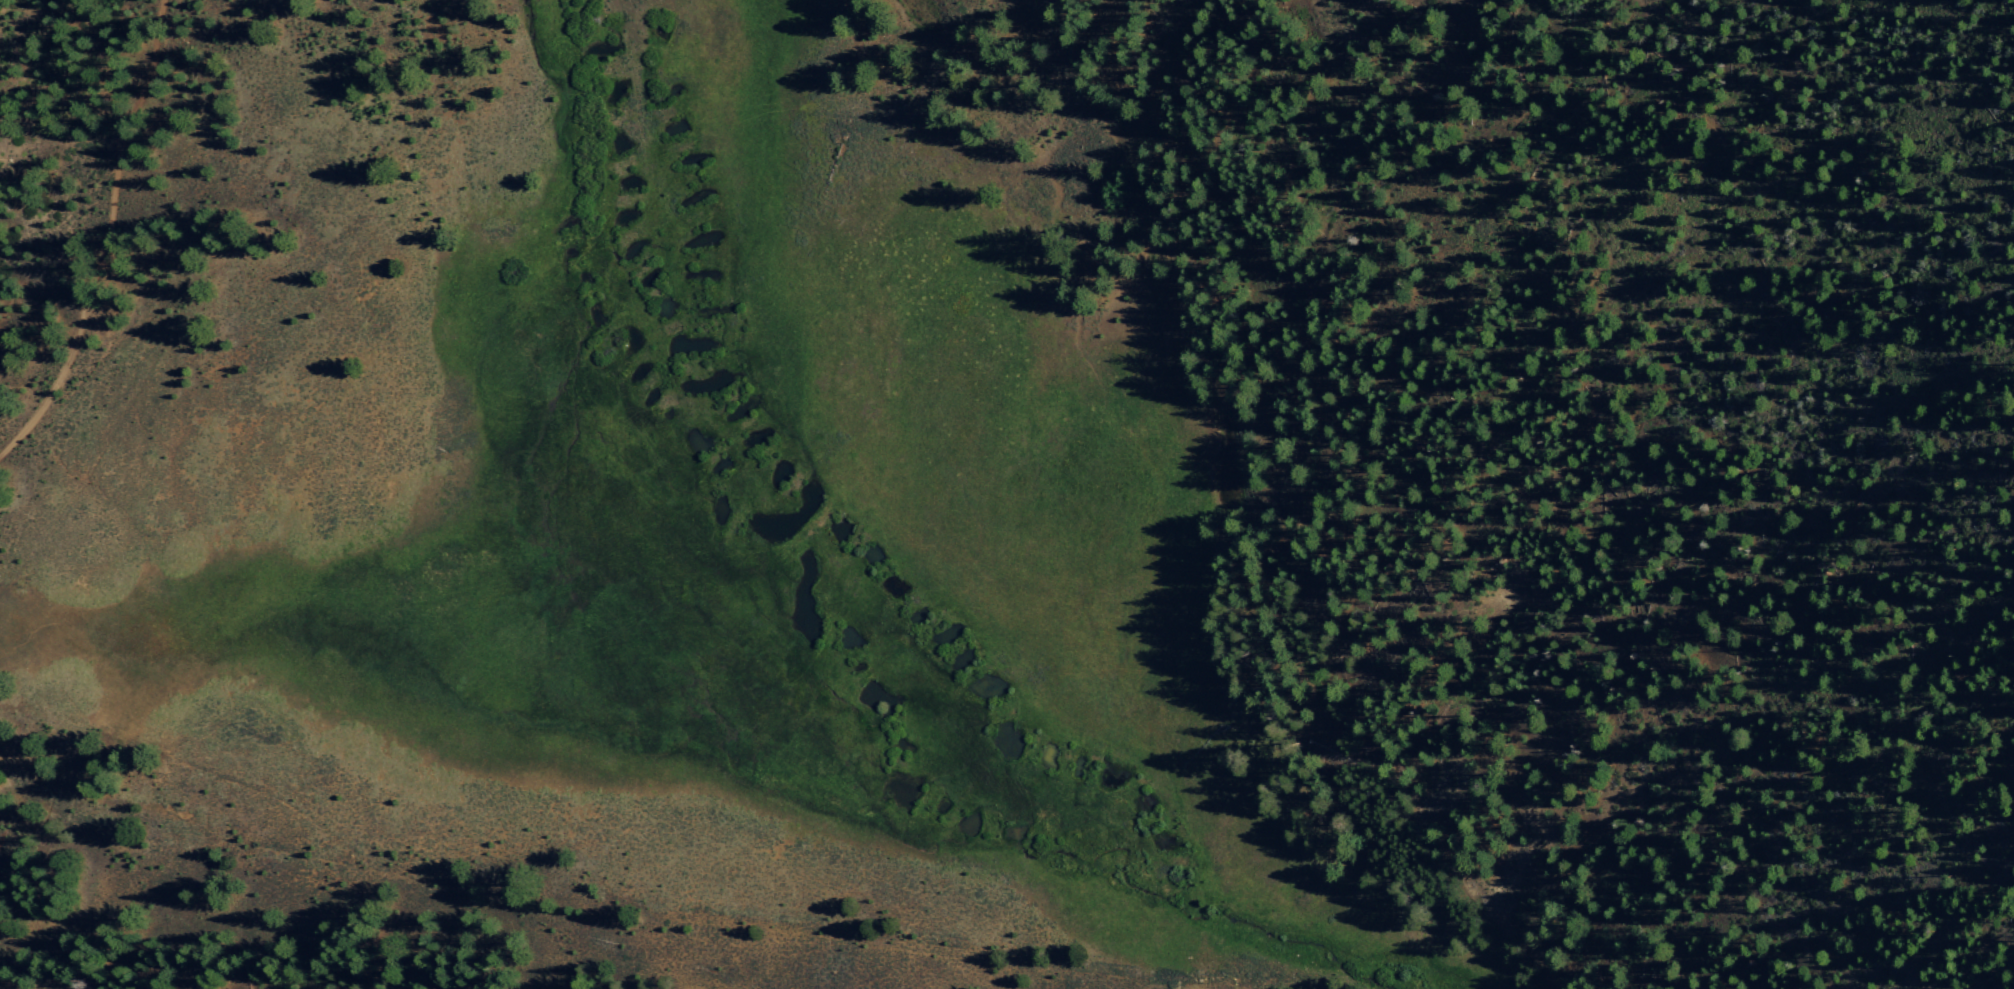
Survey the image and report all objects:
road: (110, 238)

